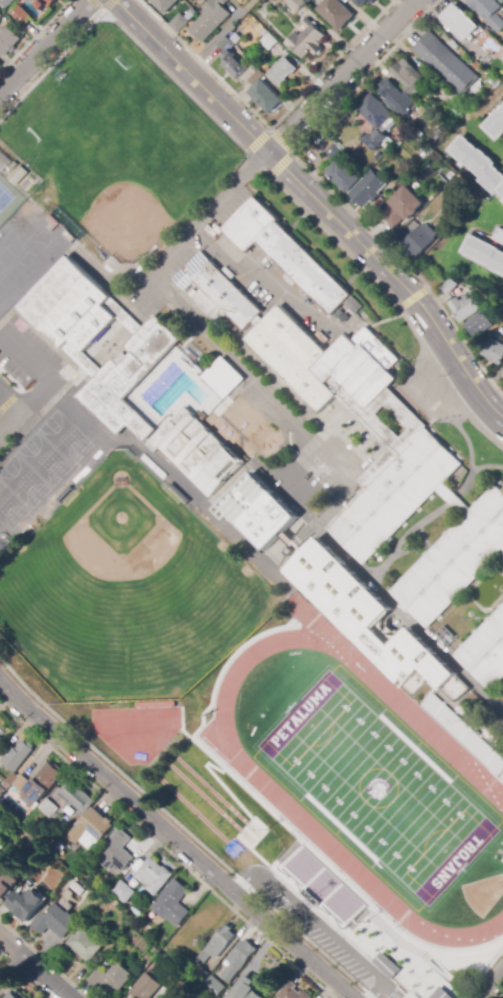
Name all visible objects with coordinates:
building: (310, 1)
building: (7, 2)
building: (222, 2)
building: (365, 2)
building: (46, 3)
building: (298, 4)
building: (165, 5)
building: (188, 7)
road: (102, 10)
building: (488, 12)
building: (336, 13)
building: (191, 14)
building: (20, 15)
building: (1, 18)
building: (170, 18)
building: (250, 19)
building: (460, 21)
building: (179, 23)
building: (206, 26)
road: (121, 29)
road: (34, 35)
building: (8, 39)
building: (307, 40)
building: (270, 42)
road: (44, 46)
building: (231, 58)
building: (446, 62)
building: (282, 71)
road: (191, 75)
road: (341, 76)
building: (410, 76)
building: (256, 77)
building: (392, 94)
building: (266, 96)
building: (429, 98)
building: (378, 120)
building: (496, 123)
road: (268, 126)
road: (279, 138)
park: (118, 146)
building: (333, 152)
building: (379, 156)
building: (4, 161)
road: (254, 161)
building: (479, 164)
building: (14, 165)
building: (18, 175)
building: (344, 176)
building: (393, 188)
building: (368, 189)
road: (332, 191)
park: (5, 196)
building: (403, 206)
road: (205, 215)
building: (498, 236)
building: (420, 241)
building: (285, 252)
building: (484, 253)
road: (394, 277)
building: (452, 286)
road: (412, 297)
road: (392, 300)
building: (352, 304)
building: (465, 307)
building: (501, 317)
building: (478, 325)
parking lot: (25, 344)
building: (494, 351)
road: (47, 371)
building: (222, 374)
building: (502, 376)
road: (10, 377)
road: (9, 399)
road: (10, 403)
road: (37, 416)
road: (10, 423)
building: (401, 430)
building: (226, 467)
road: (272, 481)
road: (342, 496)
park: (124, 590)
building: (485, 651)
building: (19, 755)
track: (476, 772)
building: (17, 780)
building: (41, 785)
park: (379, 789)
building: (2, 790)
building: (77, 796)
building: (46, 808)
building: (92, 826)
road: (184, 830)
road: (175, 840)
road: (167, 851)
building: (116, 852)
building: (153, 875)
building: (6, 884)
building: (321, 885)
building: (122, 892)
building: (172, 903)
building: (25, 905)
building: (54, 922)
building: (84, 944)
building: (217, 944)
building: (239, 958)
road: (10, 967)
road: (34, 967)
building: (387, 967)
road: (482, 972)
building: (202, 977)
building: (111, 979)
road: (492, 984)
building: (213, 986)
building: (144, 987)
building: (245, 989)
building: (292, 991)
building: (441, 994)
building: (13, 996)
building: (186, 997)

